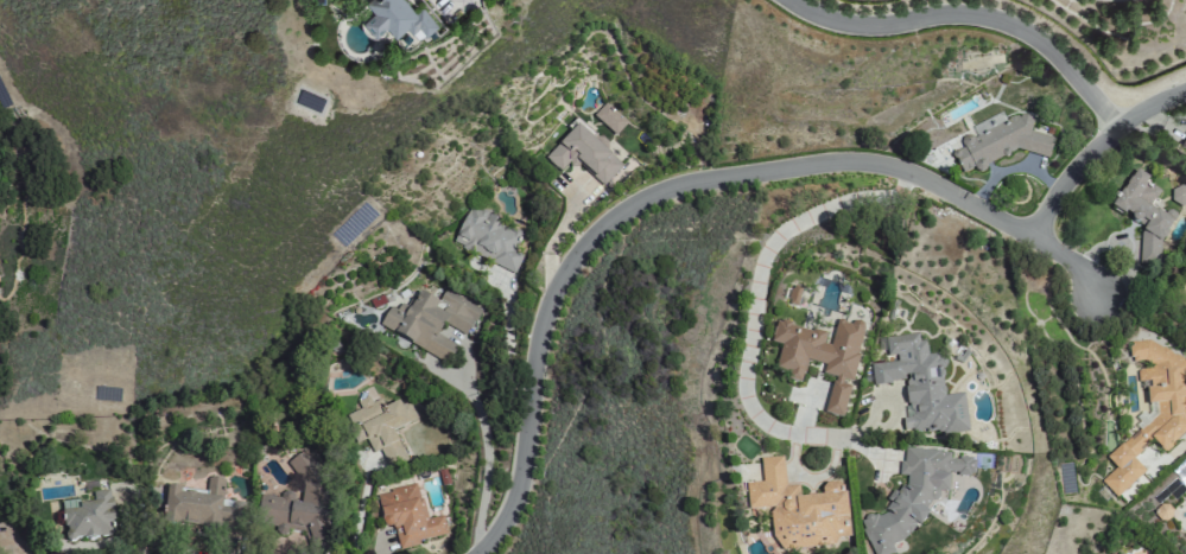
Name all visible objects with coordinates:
building: (397, 19)
road: (968, 19)
building: (609, 114)
building: (1184, 132)
building: (1001, 142)
road: (1095, 147)
building: (584, 152)
road: (689, 186)
building: (1178, 193)
building: (1143, 214)
building: (488, 237)
road: (759, 291)
building: (1184, 291)
building: (794, 295)
building: (430, 319)
building: (820, 356)
building: (920, 386)
building: (1165, 424)
building: (381, 425)
building: (912, 496)
building: (300, 503)
building: (202, 505)
road: (361, 507)
building: (798, 509)
building: (407, 515)
building: (89, 516)

